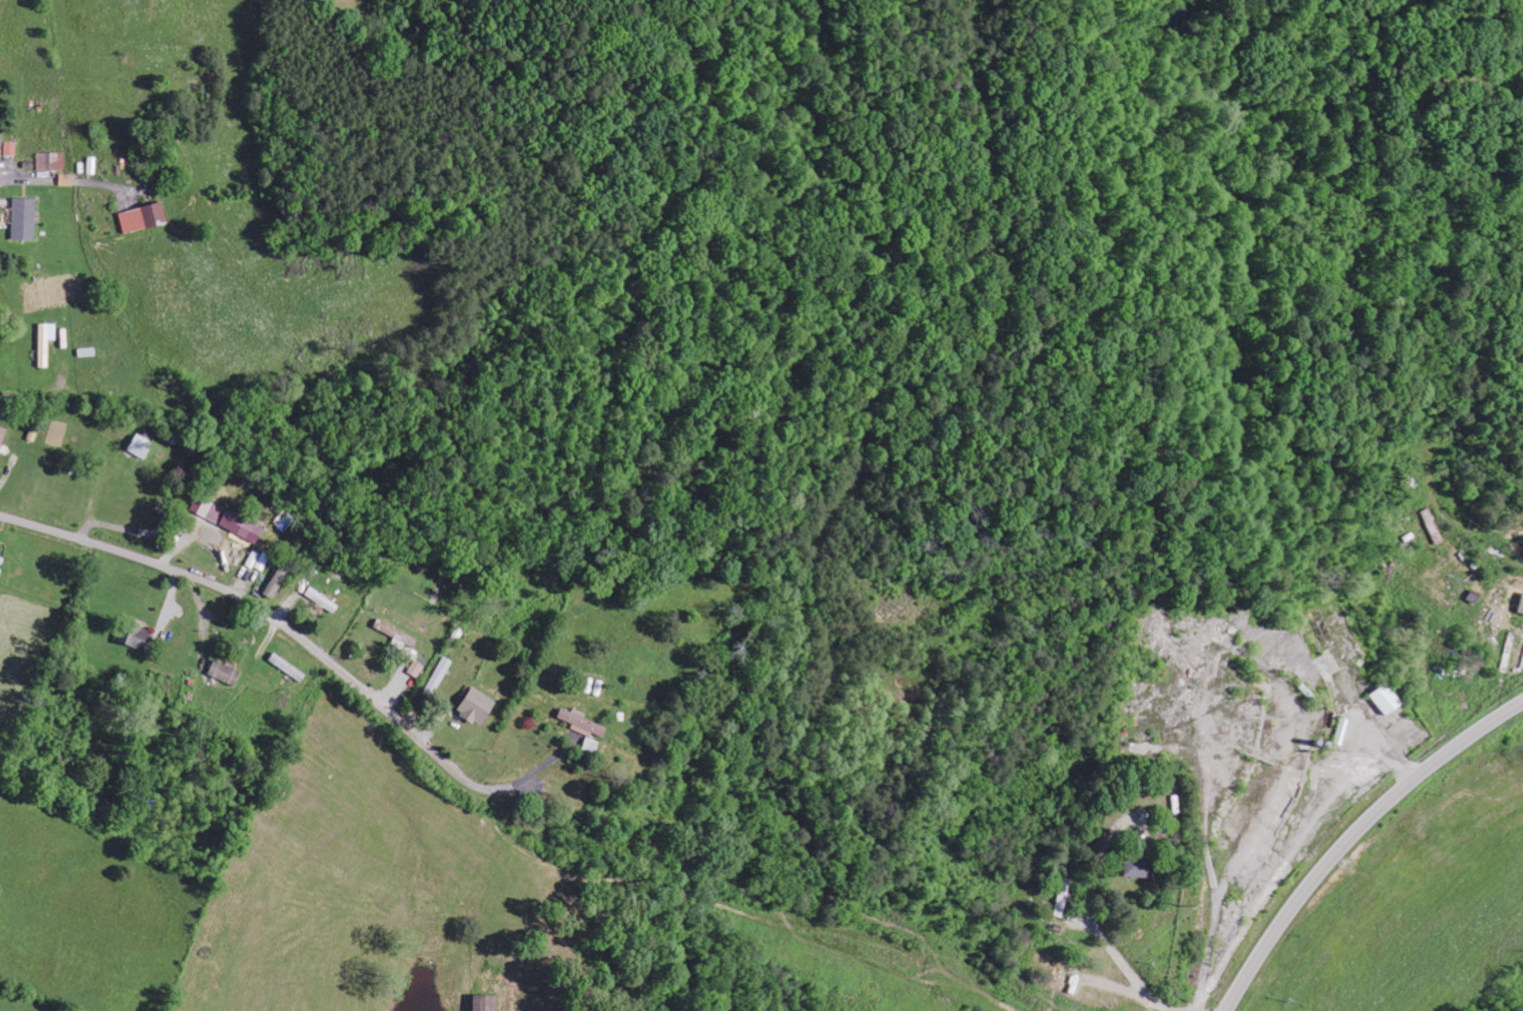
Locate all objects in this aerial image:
building: (145, 218)
building: (26, 219)
building: (47, 342)
building: (2, 438)
building: (143, 445)
building: (229, 518)
building: (1, 572)
building: (280, 579)
building: (324, 599)
building: (1522, 610)
road: (272, 618)
building: (136, 635)
building: (399, 635)
building: (417, 668)
building: (227, 672)
building: (439, 676)
building: (1390, 698)
building: (479, 706)
building: (584, 722)
building: (592, 745)
road: (1353, 835)
building: (1142, 866)
building: (489, 1002)

